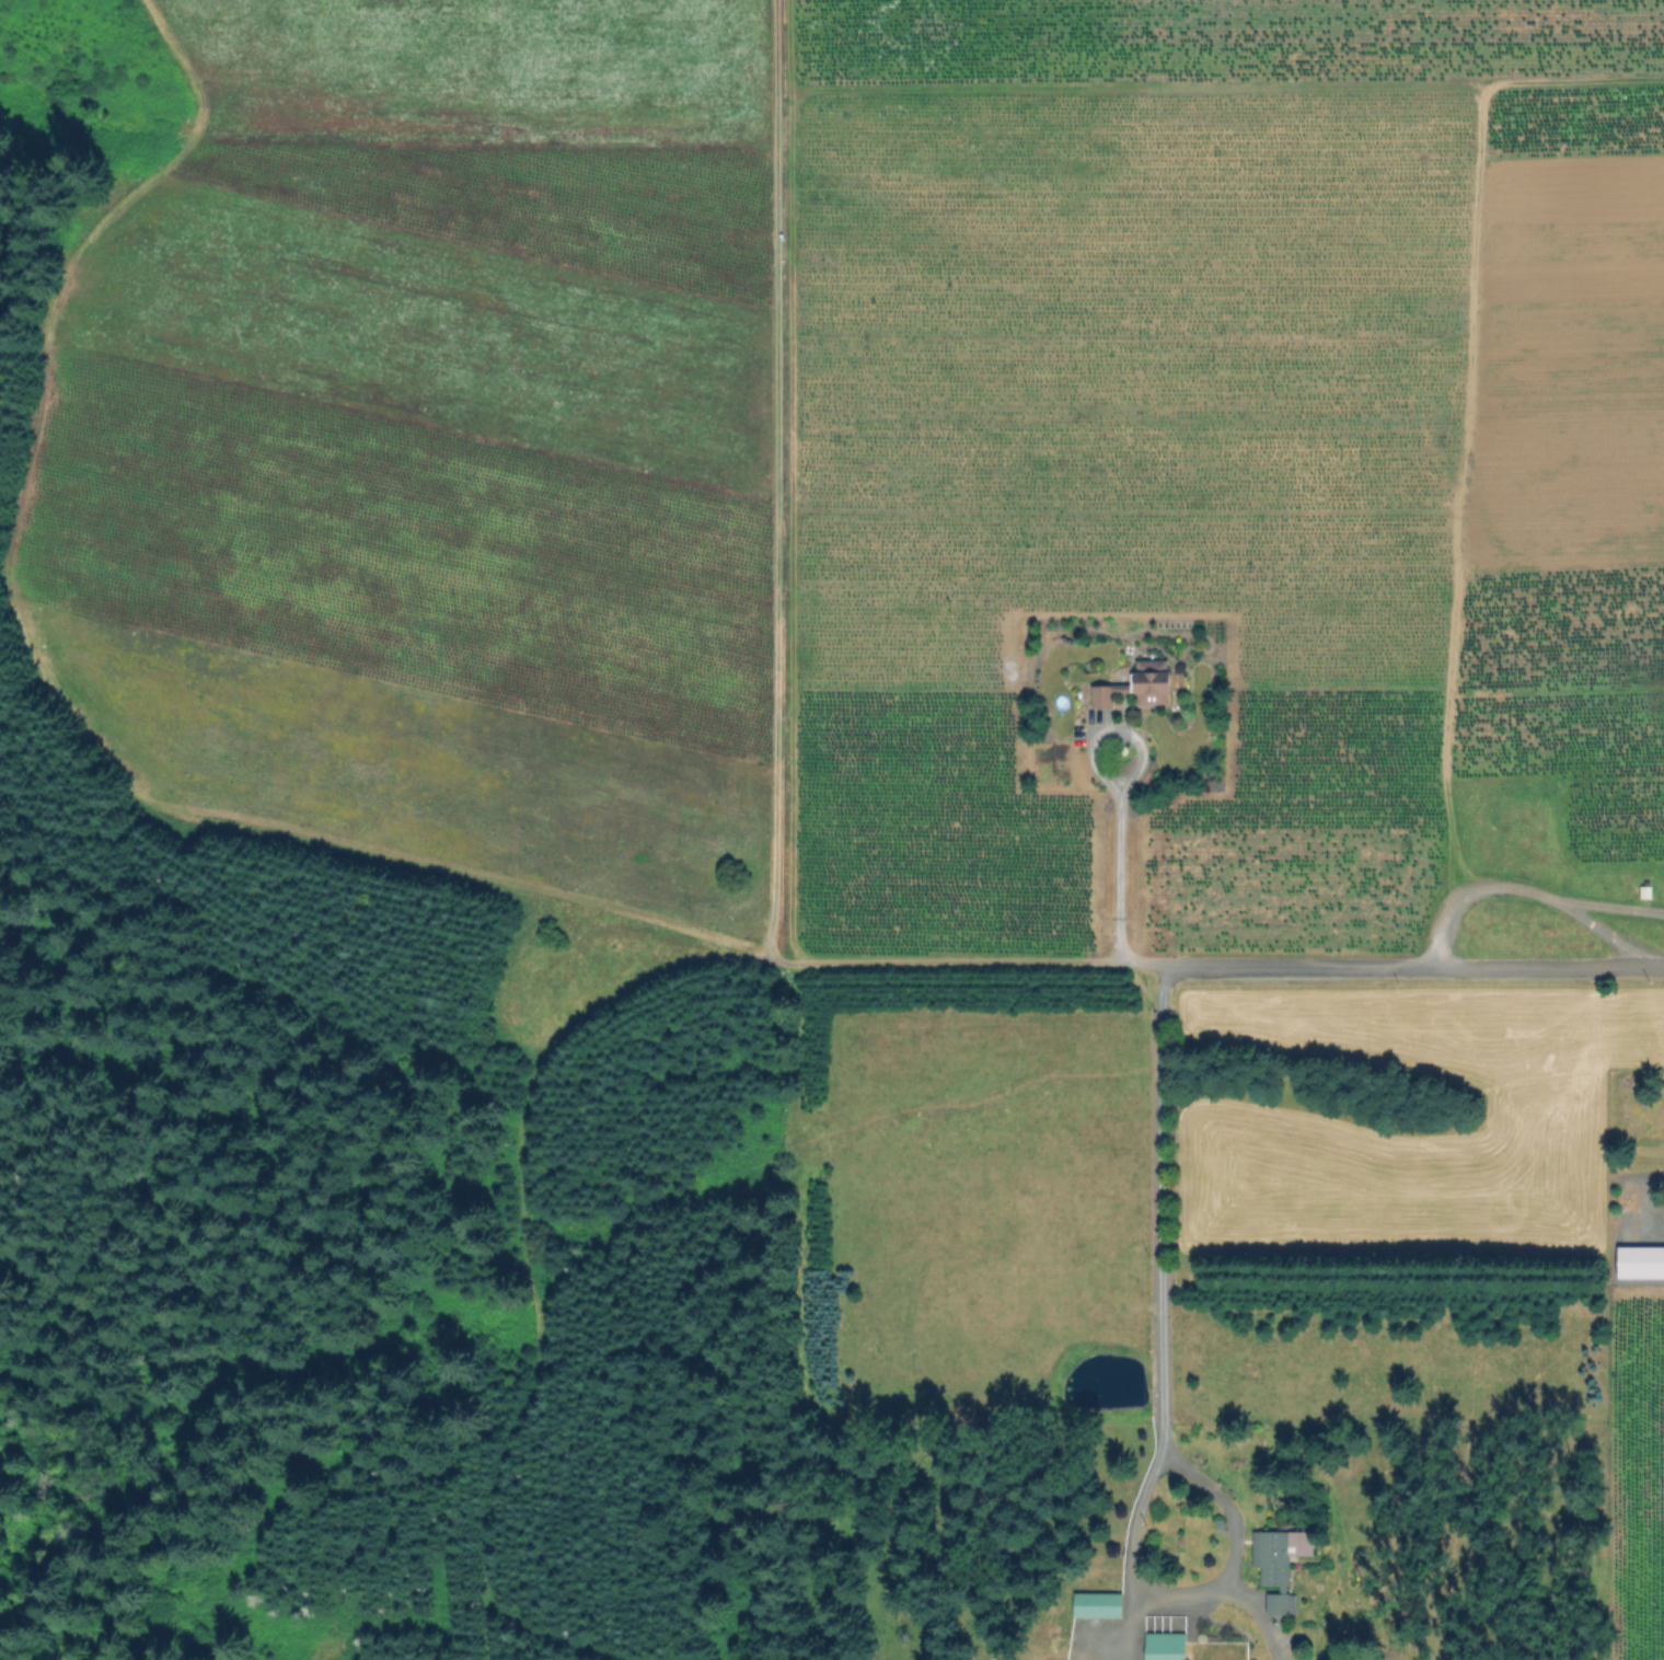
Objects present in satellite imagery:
building: (1140, 685)
road: (1117, 861)
road: (1514, 891)
building: (1648, 891)
road: (1611, 910)
road: (770, 927)
road: (1159, 1206)
building: (1641, 1263)
building: (1280, 1564)
building: (1099, 1604)
road: (1194, 1607)
building: (1165, 1646)
building: (1367, 1658)

